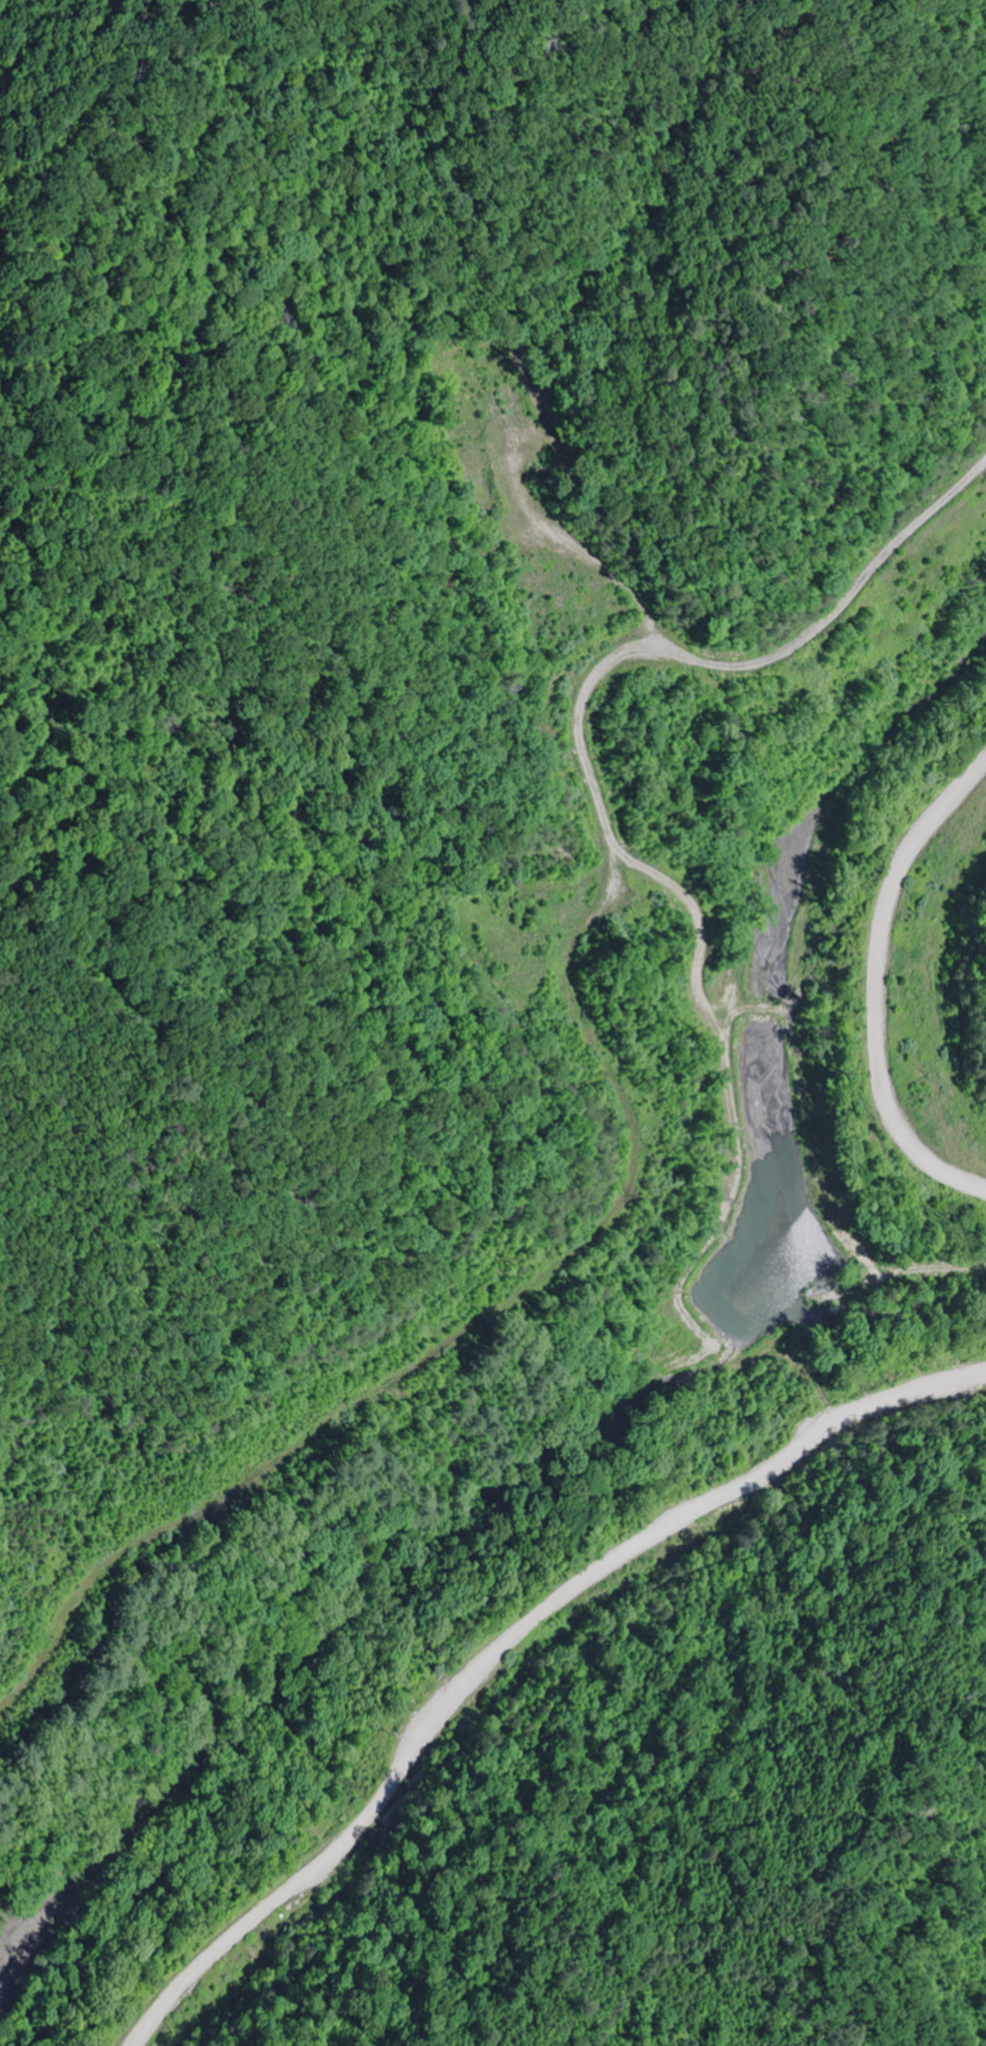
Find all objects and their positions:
quarry: (578, 1156)

